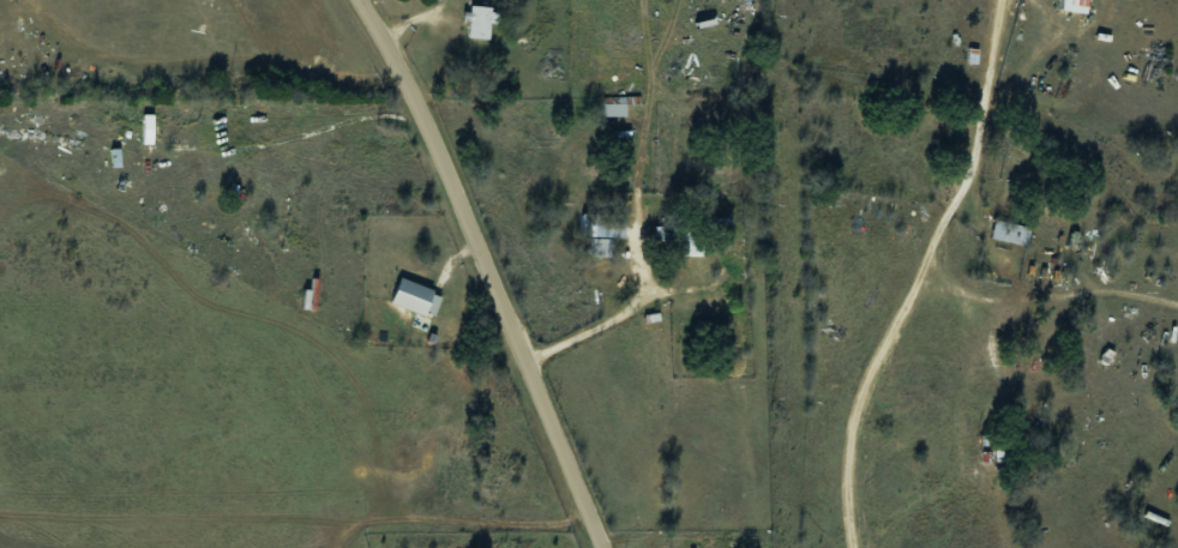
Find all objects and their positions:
building: (1072, 5)
road: (417, 19)
building: (480, 22)
building: (614, 107)
building: (131, 133)
building: (605, 223)
building: (1009, 231)
building: (679, 239)
building: (600, 247)
road: (492, 271)
building: (414, 297)
road: (621, 313)
building: (686, 544)

